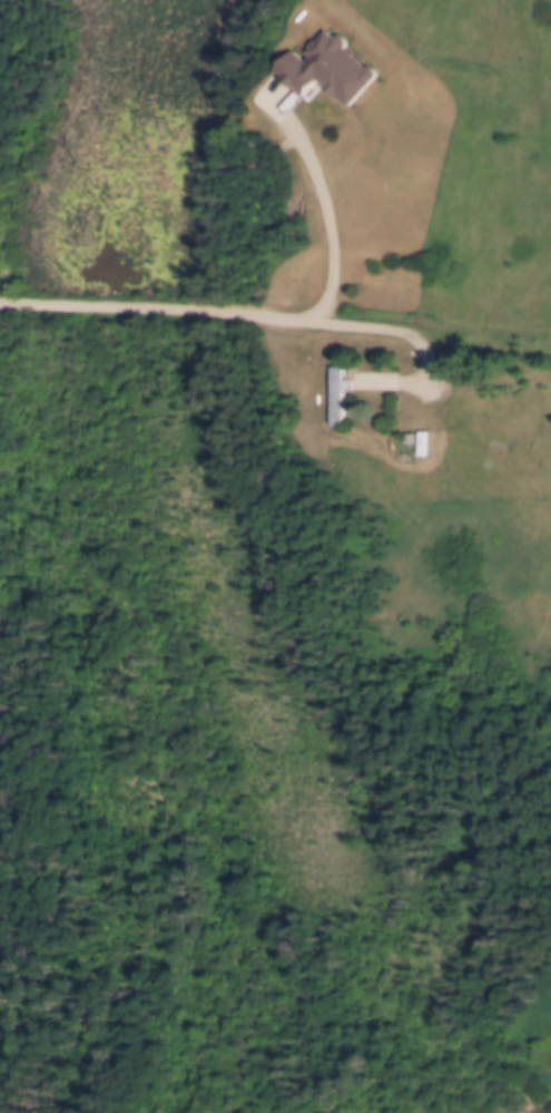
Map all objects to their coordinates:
building: (328, 65)
road: (332, 231)
road: (166, 307)
road: (401, 329)
building: (338, 390)
building: (405, 435)
building: (414, 436)

